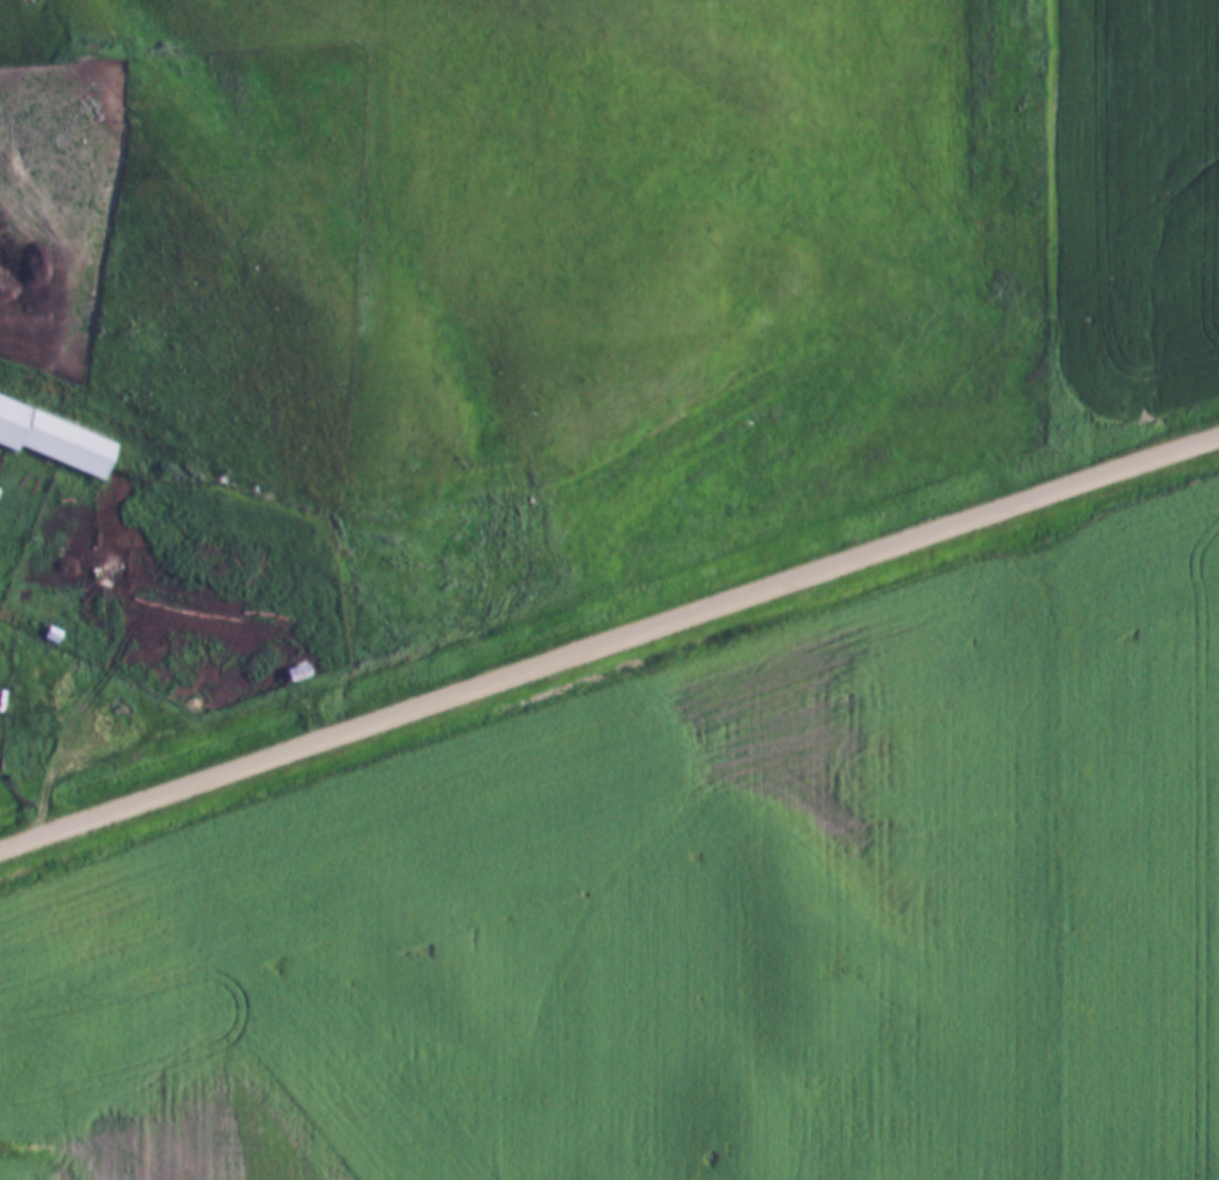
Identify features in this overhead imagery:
building: (53, 438)
road: (609, 640)
building: (296, 672)
building: (1, 701)

